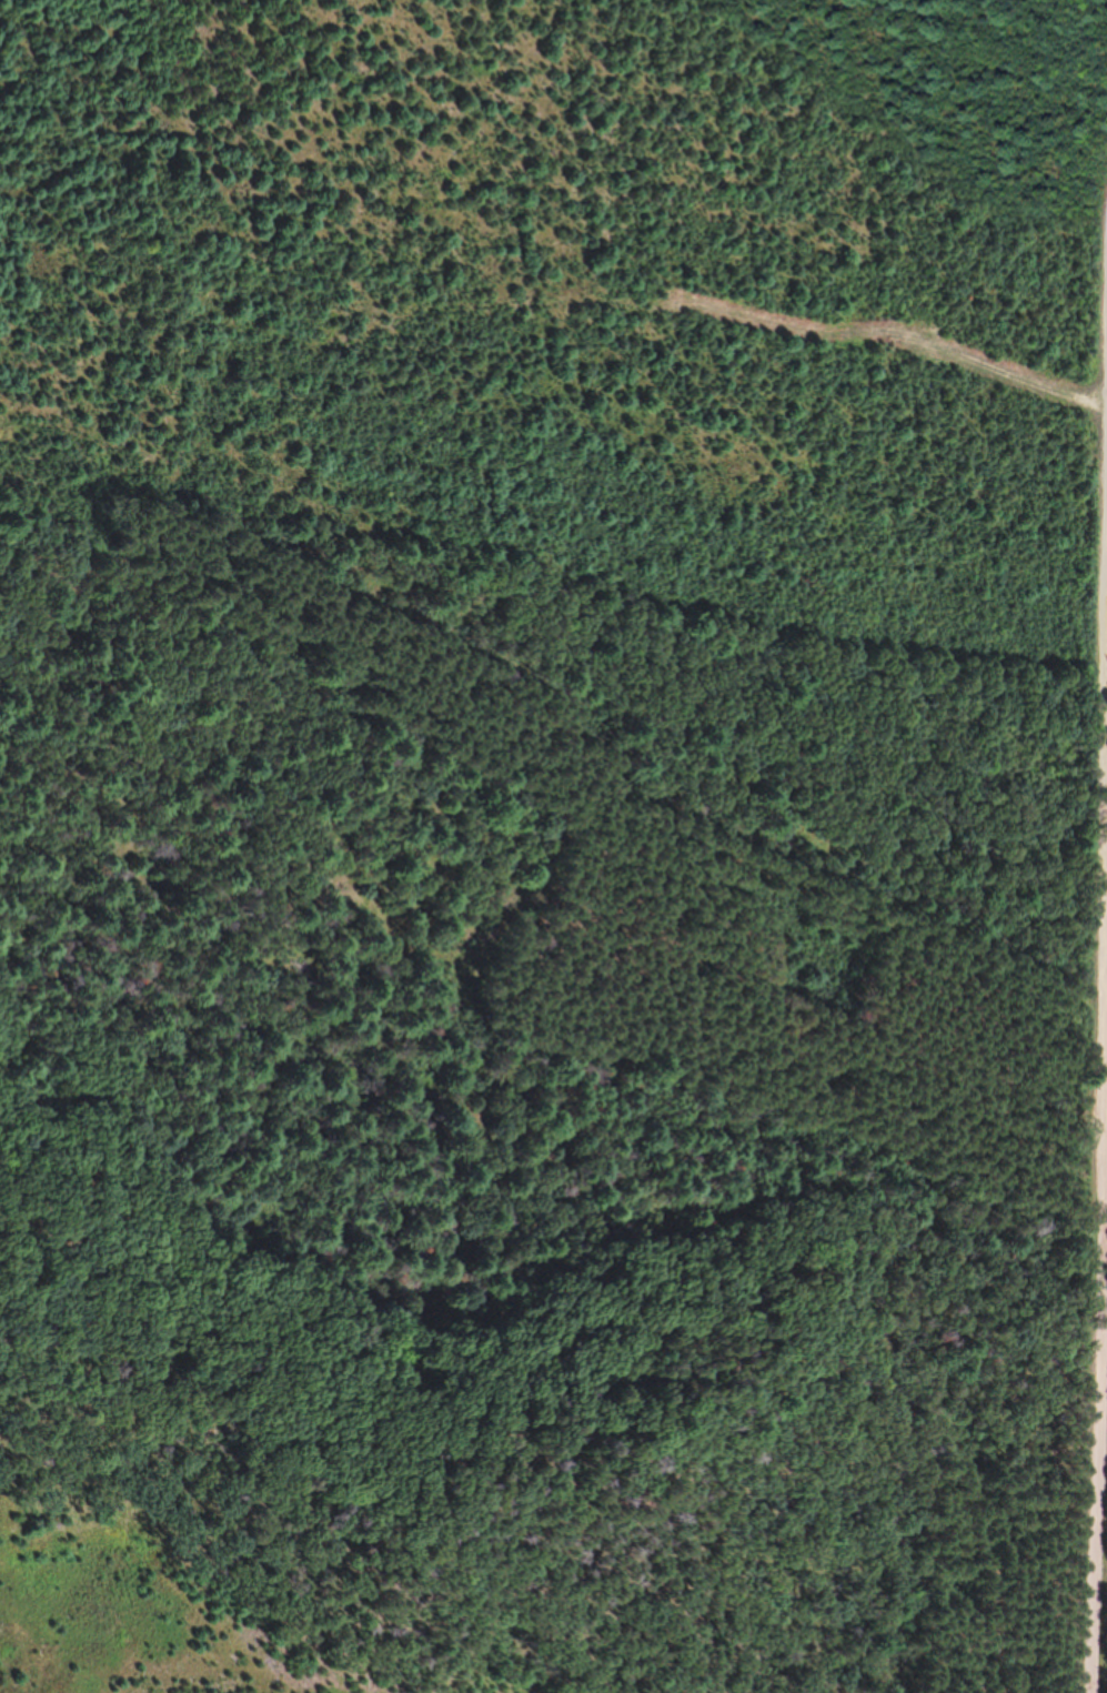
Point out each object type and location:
road: (1101, 963)

